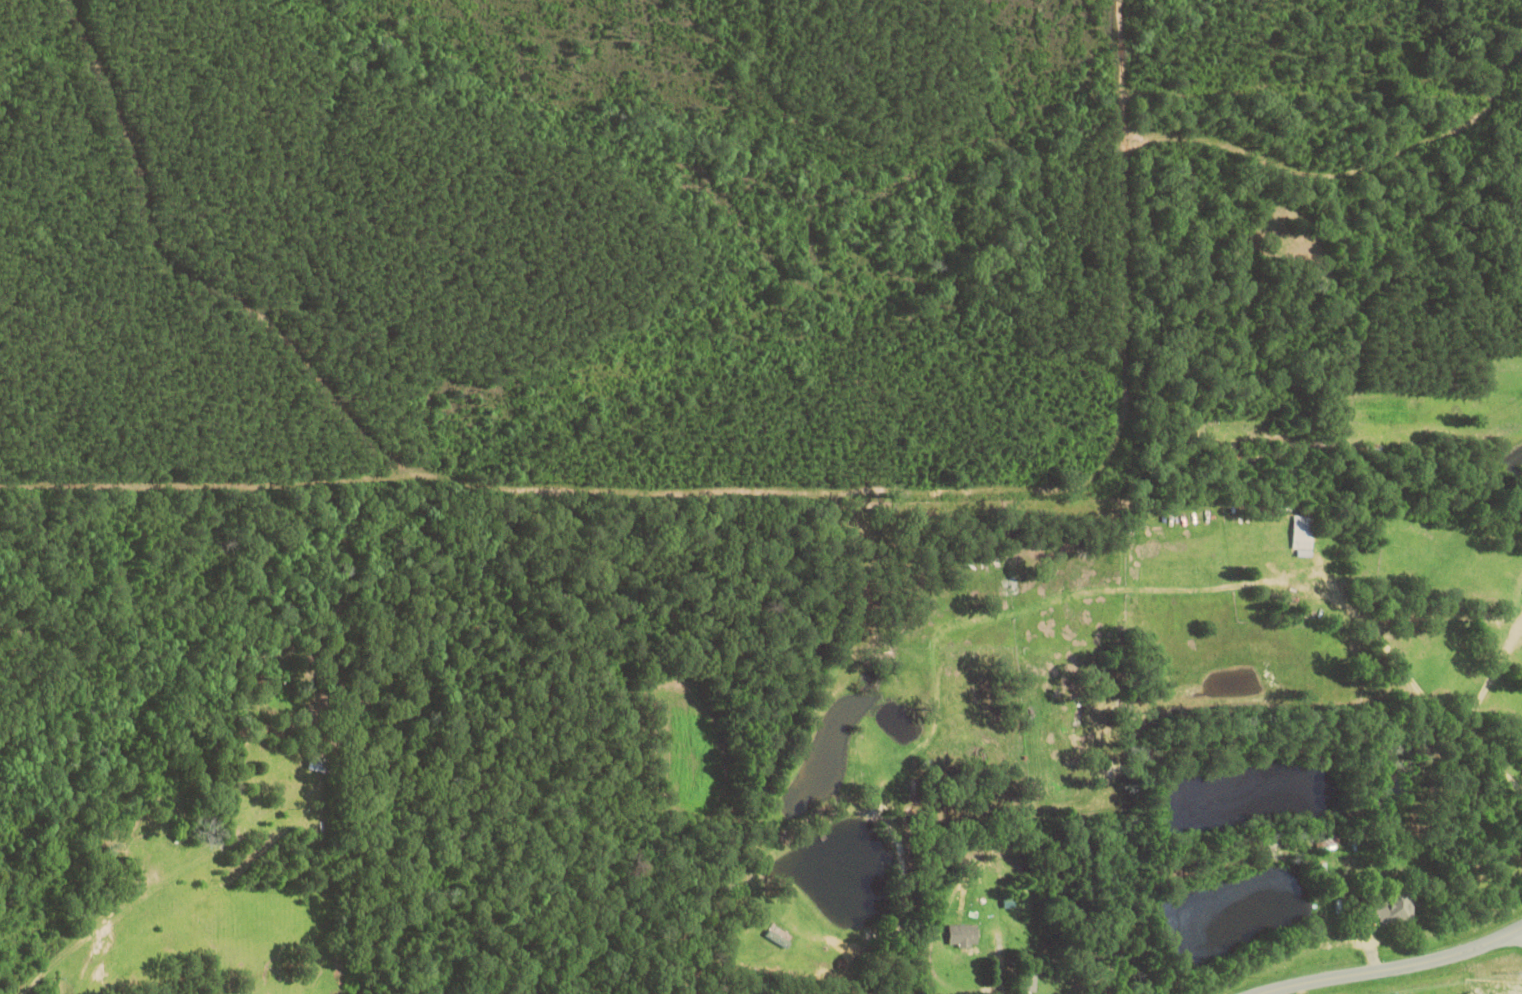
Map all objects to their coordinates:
building: (1304, 531)
road: (1379, 643)
building: (317, 763)
building: (1392, 906)
road: (1520, 927)
building: (966, 934)
building: (778, 938)
road: (1387, 966)

